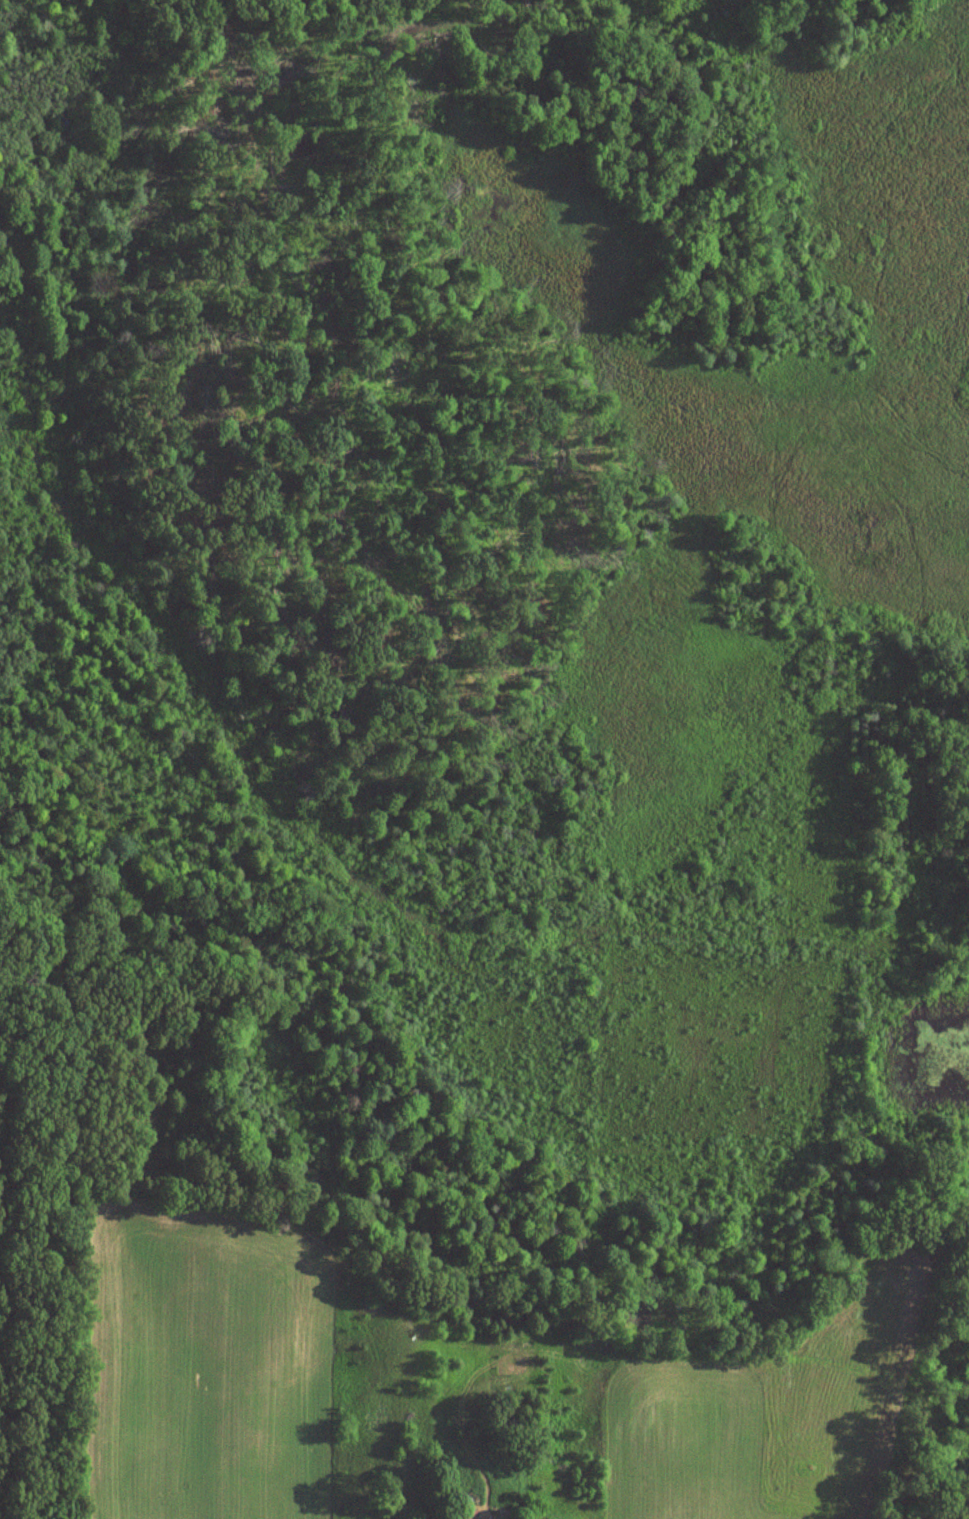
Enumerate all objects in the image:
building: (458, 1513)

